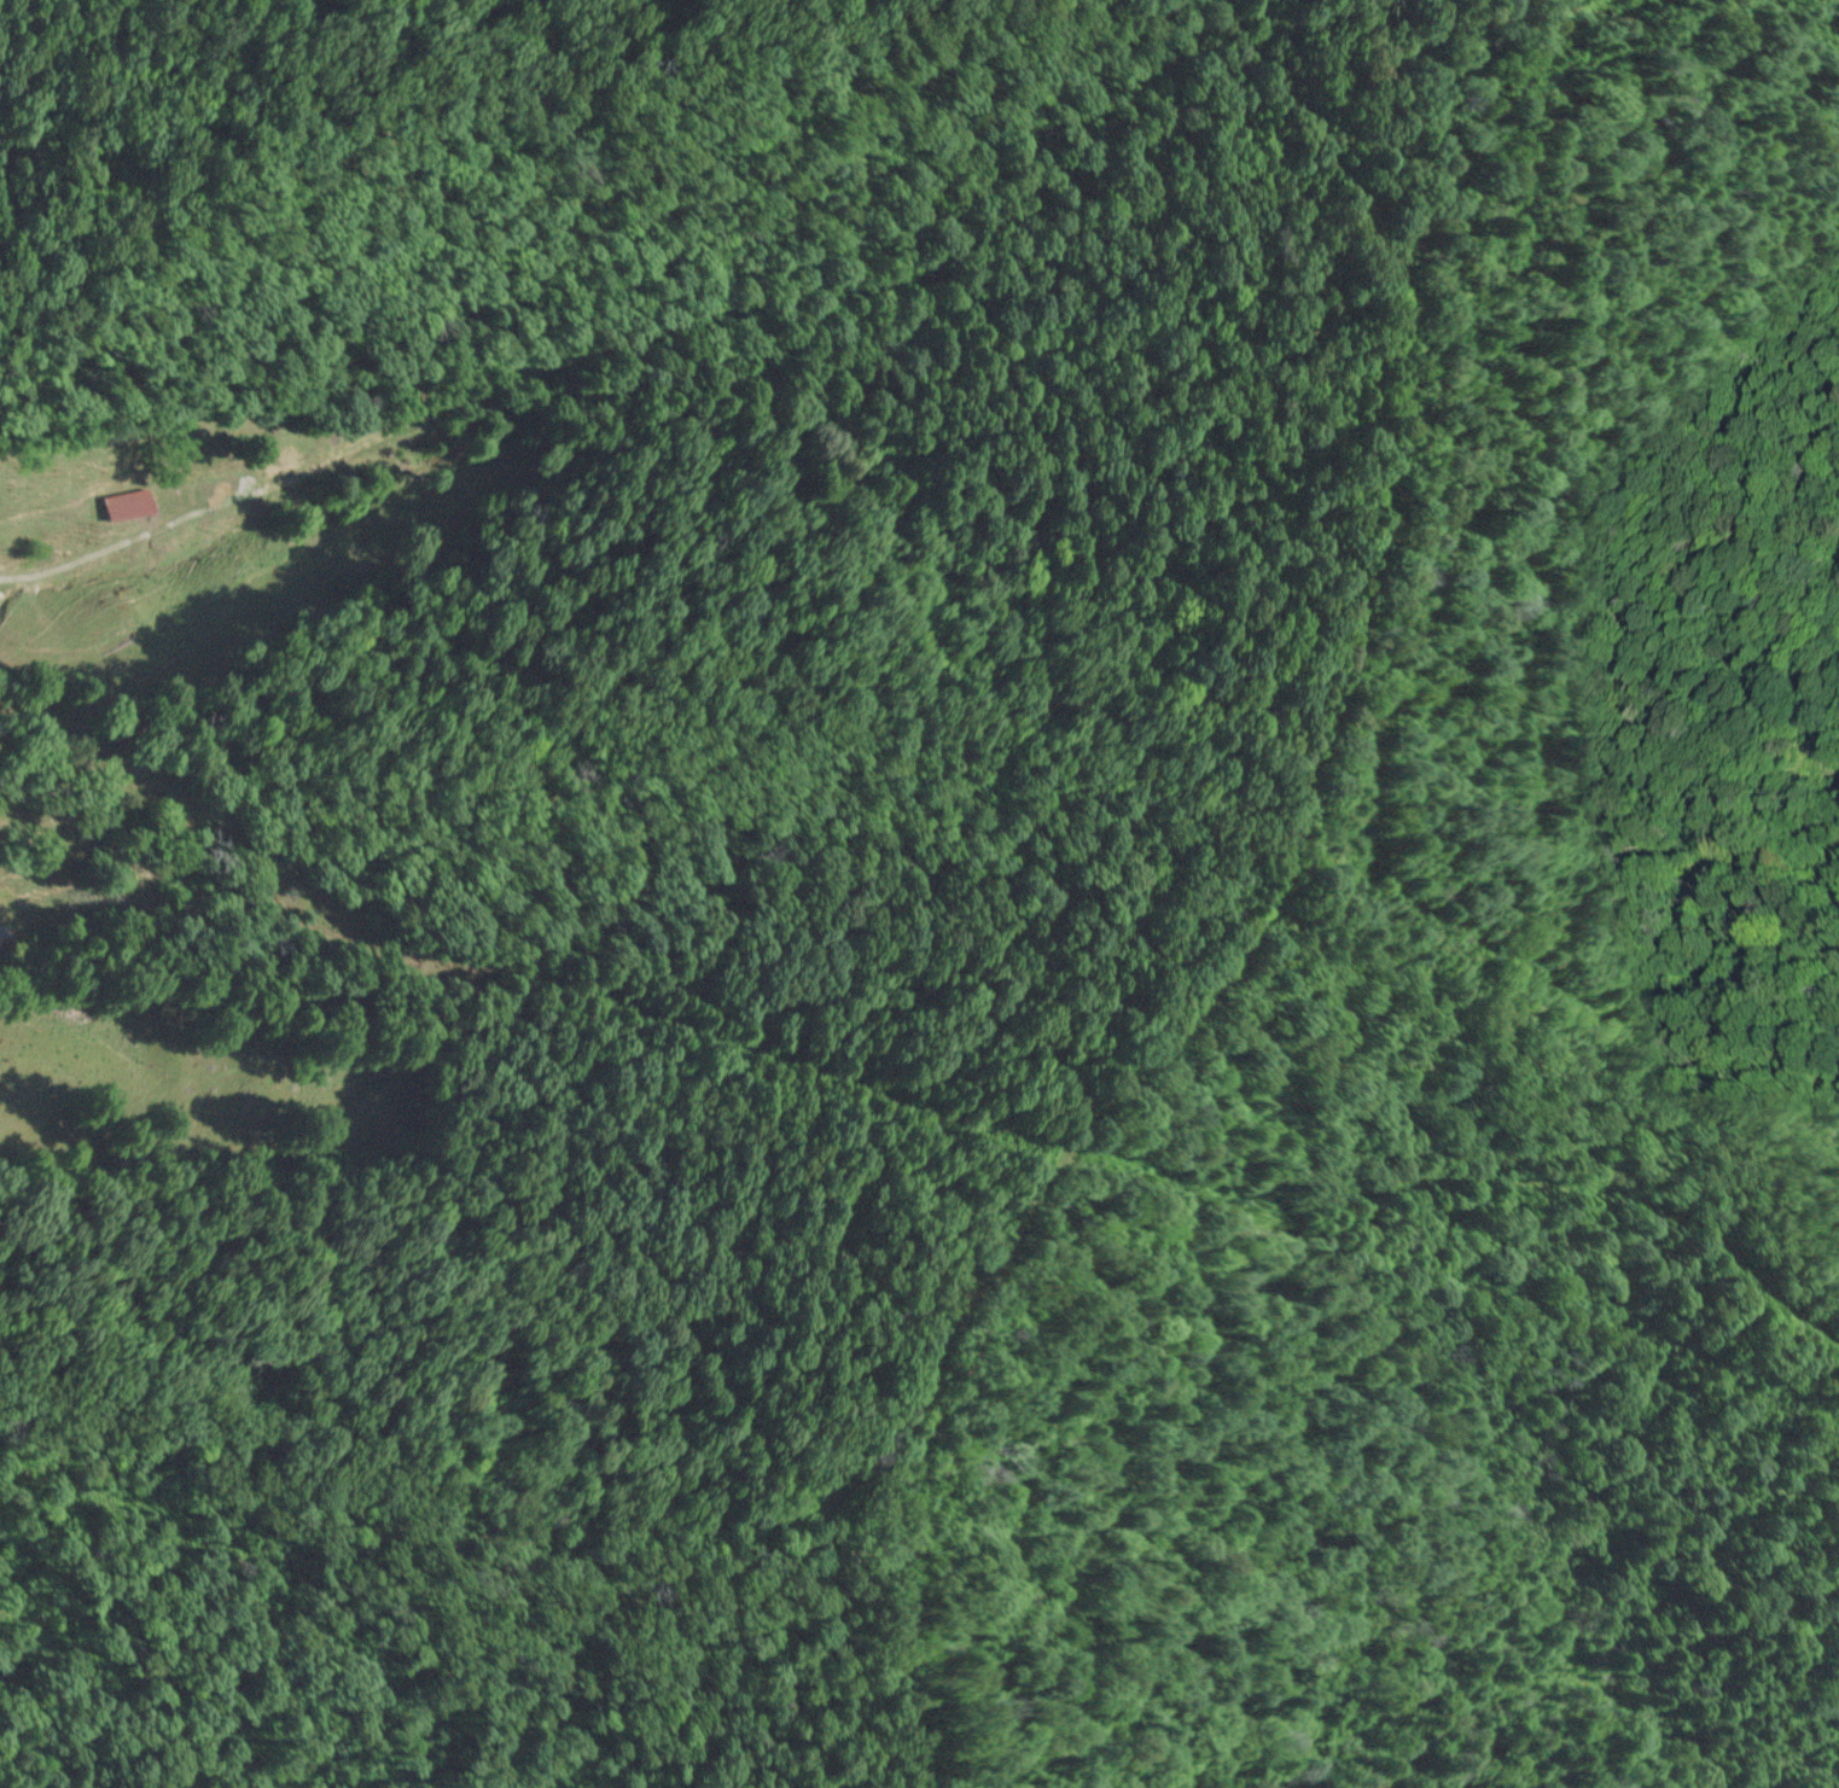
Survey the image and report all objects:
building: (221, 483)
building: (121, 507)

